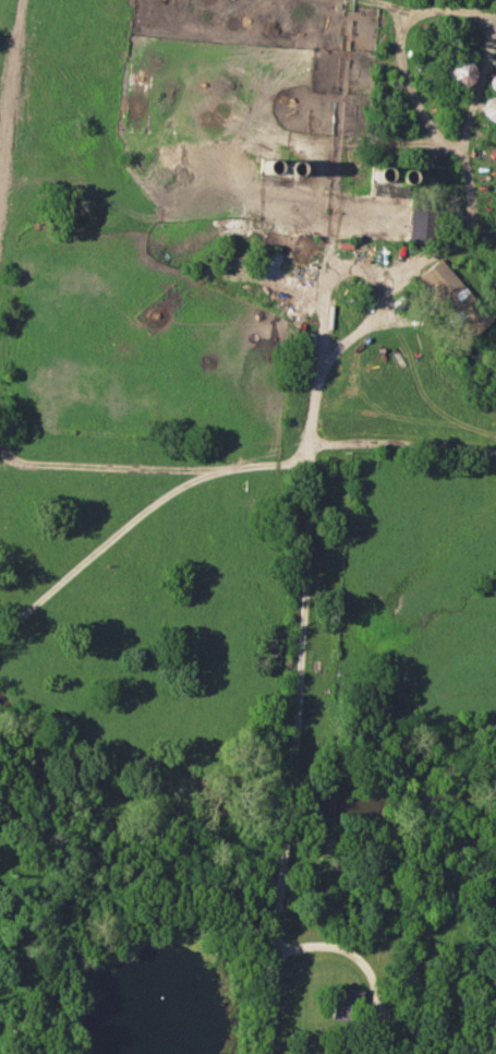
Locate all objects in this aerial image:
road: (406, 76)
building: (444, 284)
road: (377, 299)
building: (473, 319)
road: (402, 441)
road: (138, 513)
road: (288, 750)
road: (377, 998)

